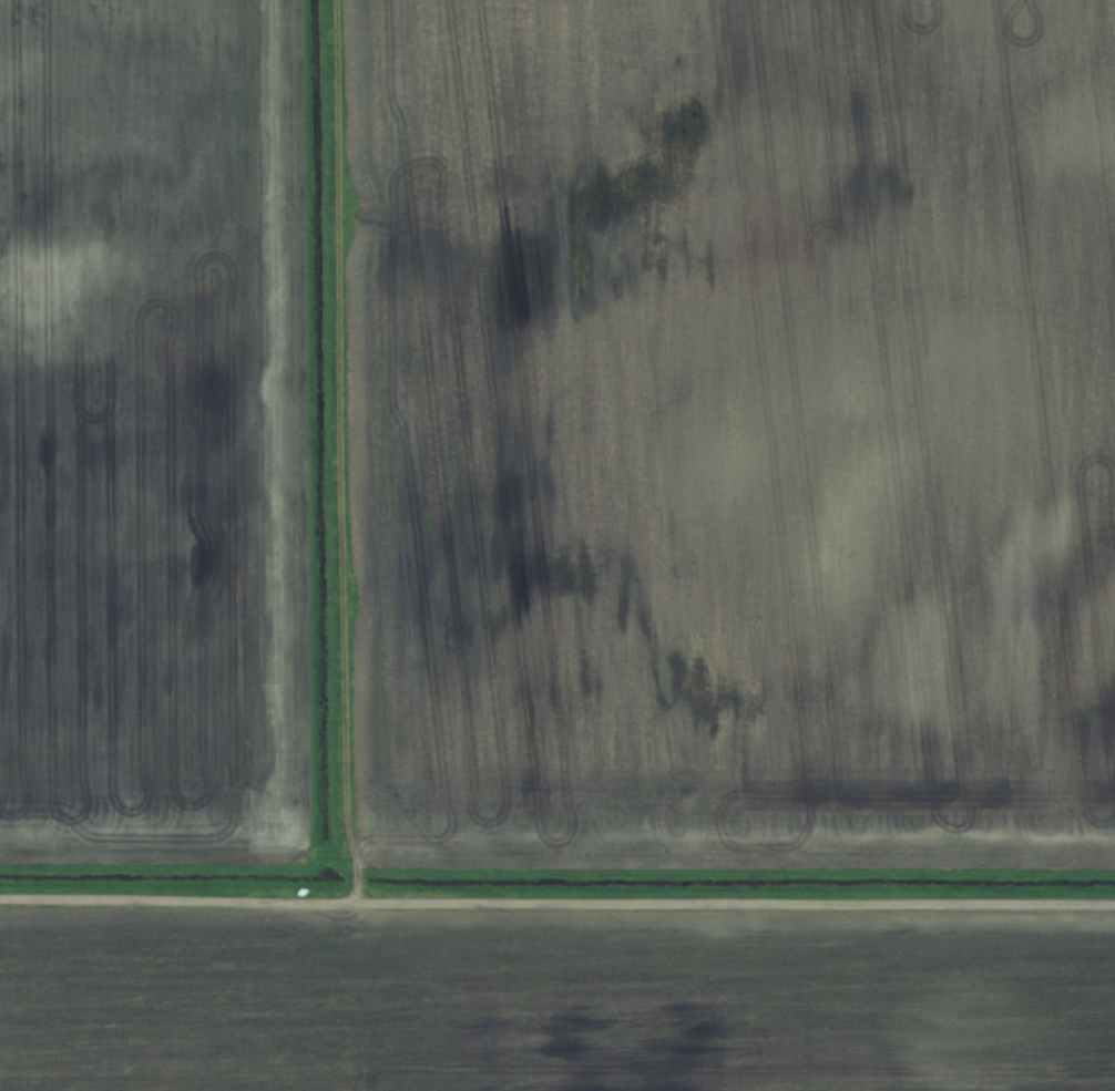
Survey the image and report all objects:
road: (556, 910)

